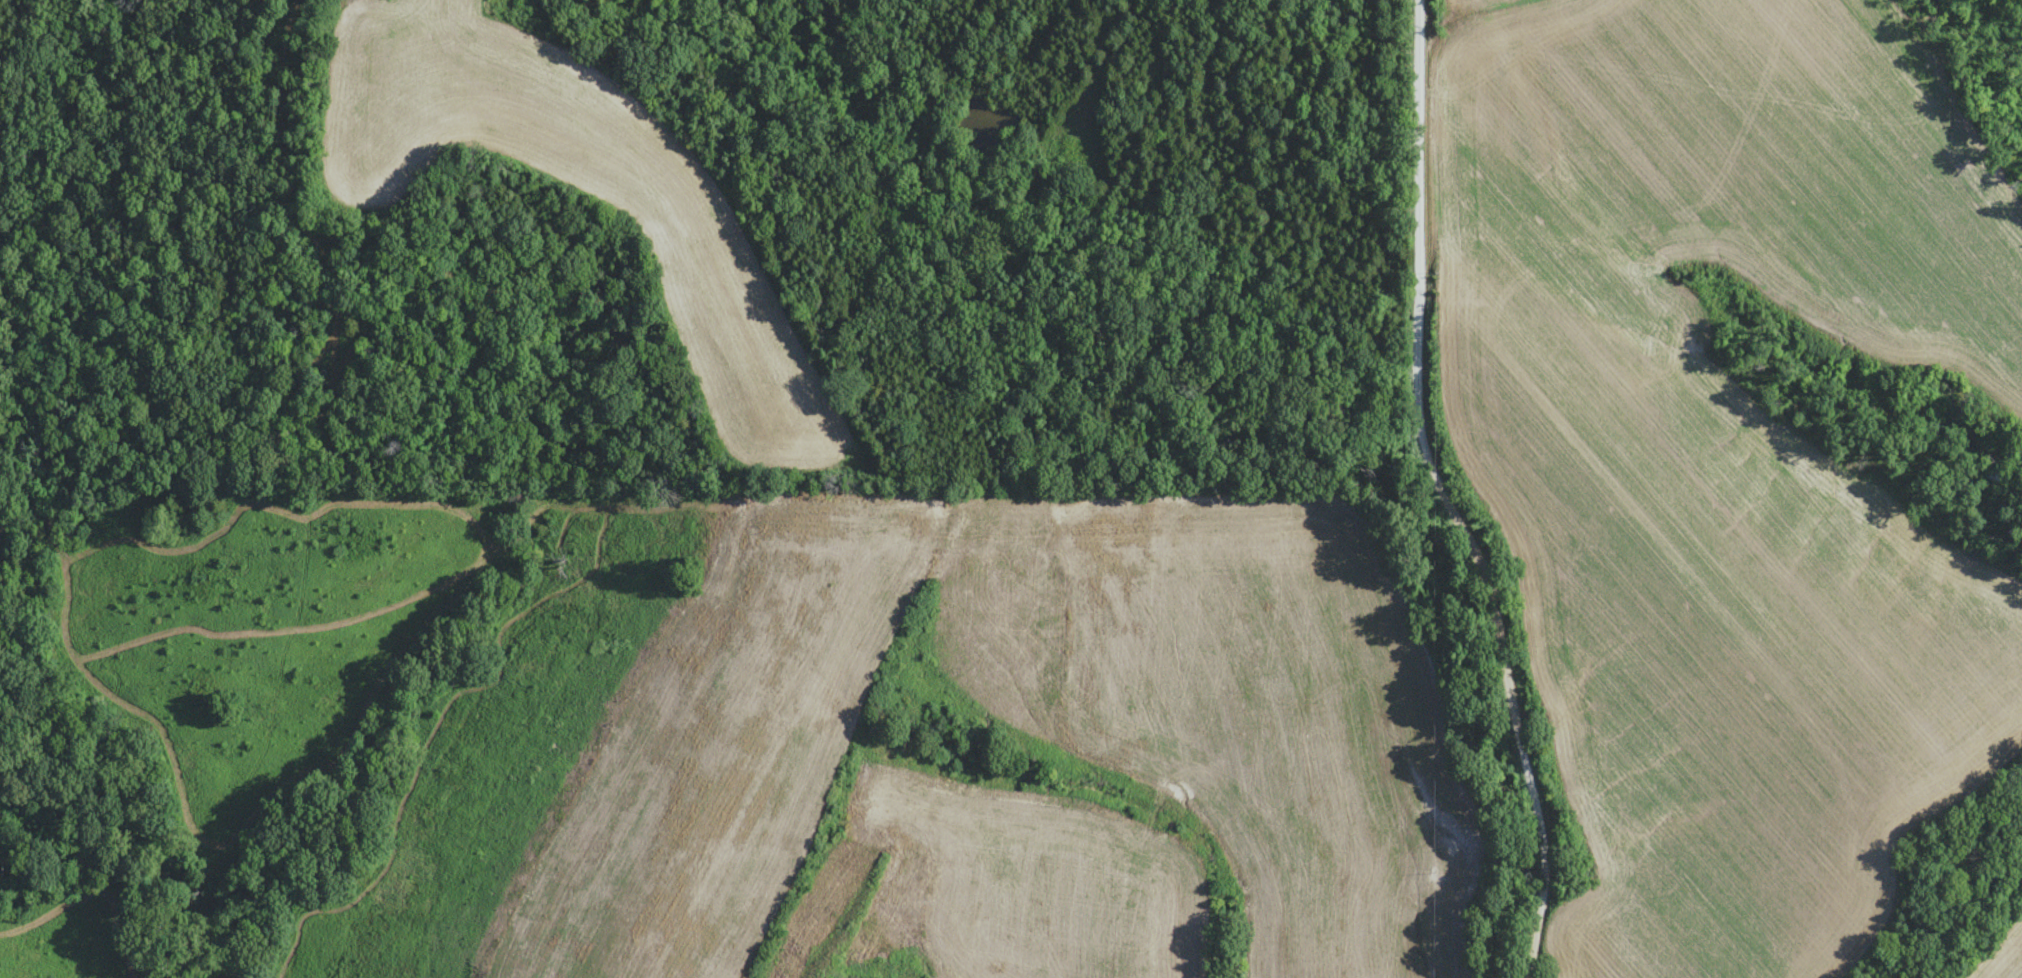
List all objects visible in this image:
road: (1445, 495)

